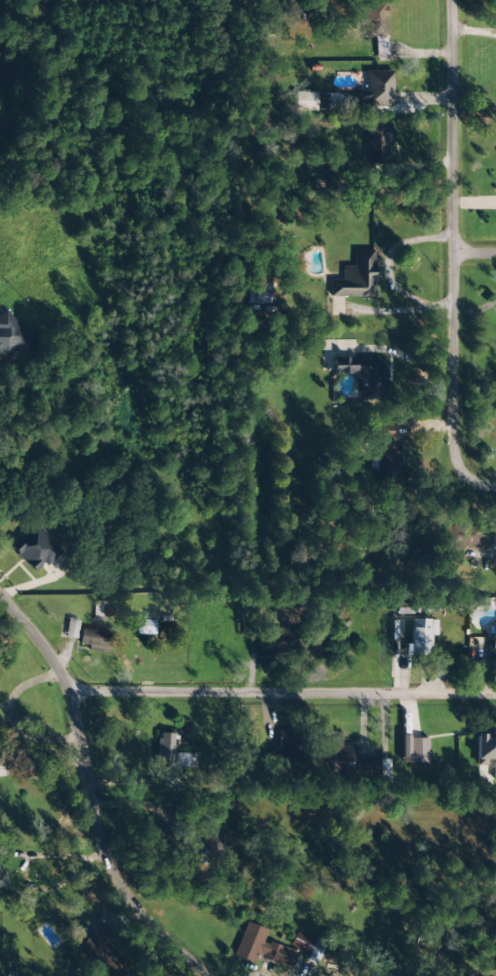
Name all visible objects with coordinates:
building: (376, 27)
building: (377, 88)
building: (310, 103)
road: (424, 119)
building: (376, 145)
road: (461, 240)
building: (355, 278)
building: (263, 287)
building: (11, 337)
building: (363, 374)
road: (433, 395)
building: (388, 461)
building: (465, 535)
building: (37, 550)
building: (145, 627)
building: (71, 629)
building: (420, 636)
building: (95, 640)
building: (281, 640)
building: (493, 642)
road: (289, 693)
building: (182, 731)
building: (288, 746)
building: (166, 749)
building: (335, 750)
building: (414, 750)
building: (486, 750)
building: (270, 759)
road: (50, 765)
building: (364, 767)
road: (103, 780)
building: (211, 849)
road: (66, 857)
building: (3, 880)
building: (261, 947)
building: (307, 947)
building: (102, 952)

